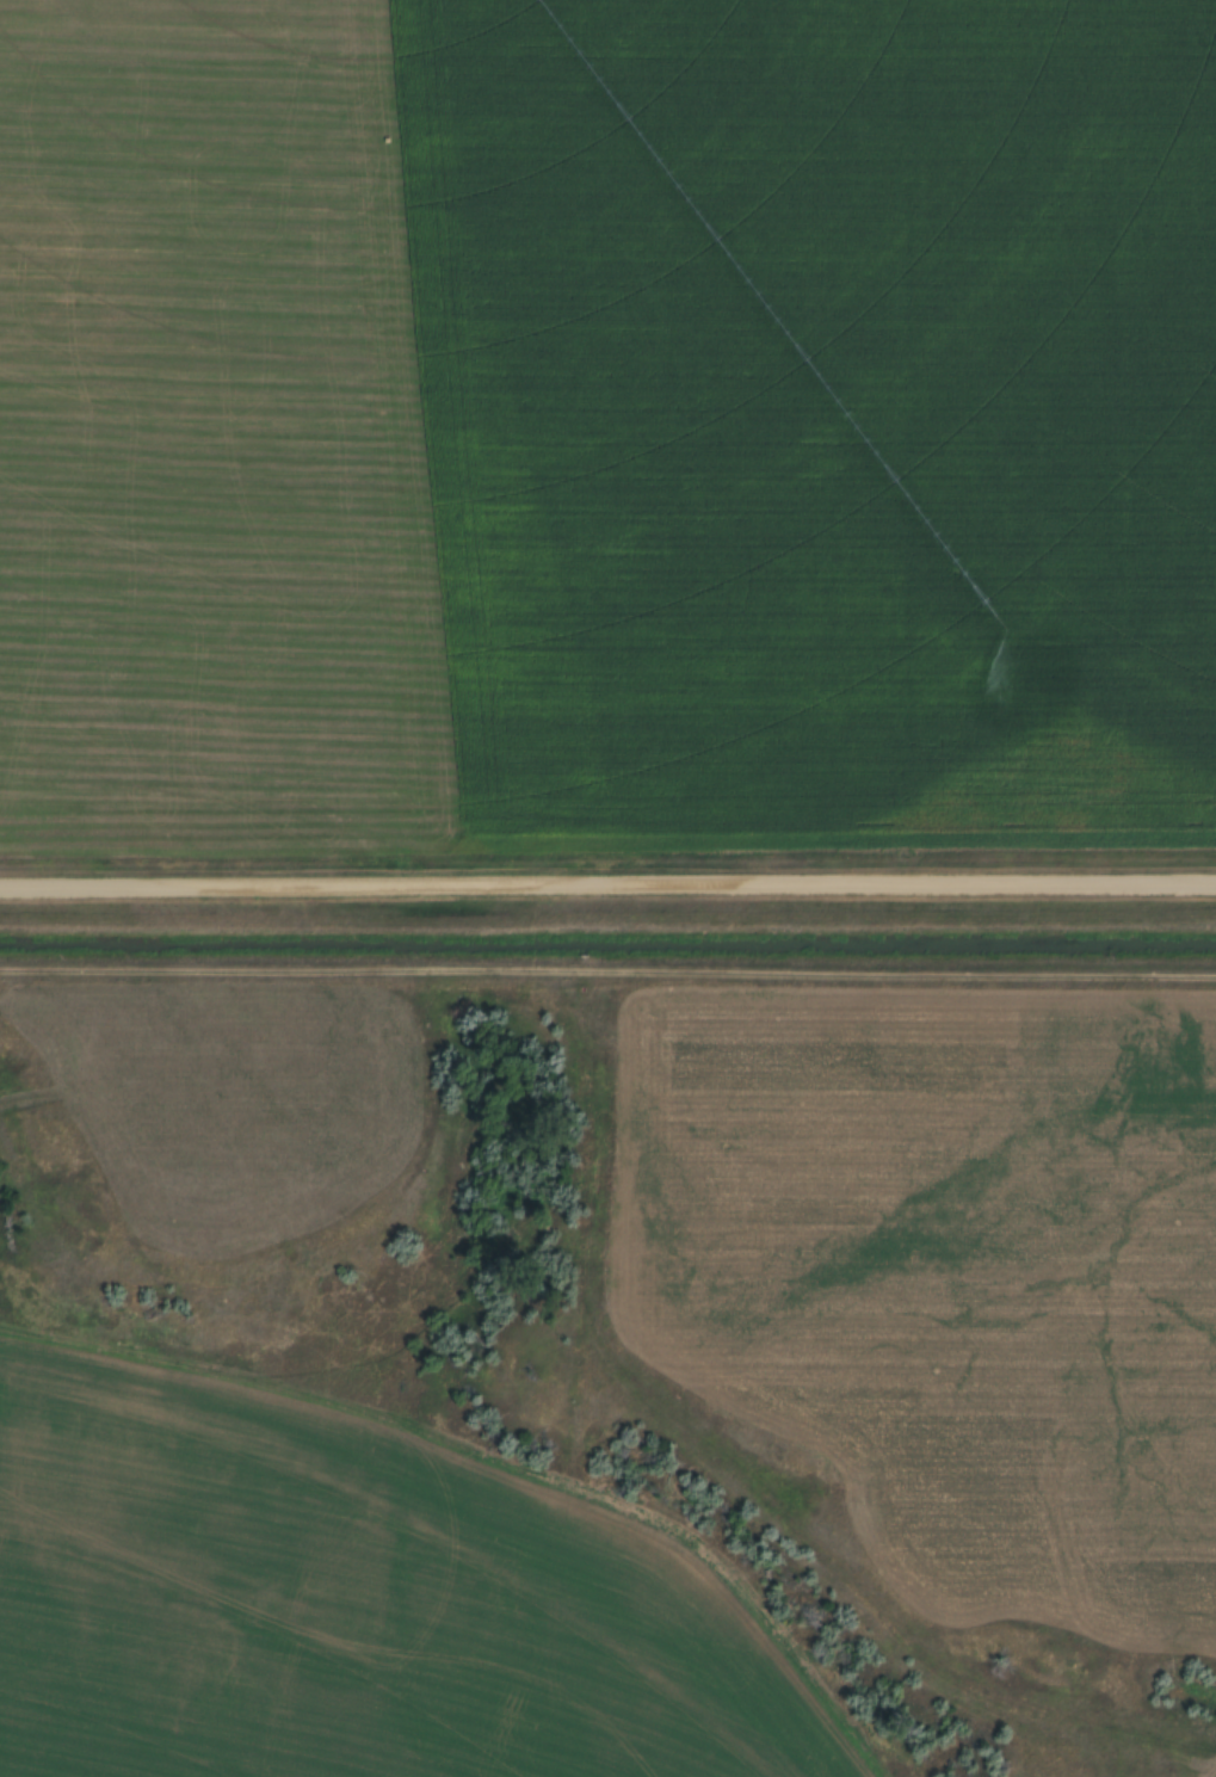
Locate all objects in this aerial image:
road: (607, 886)

